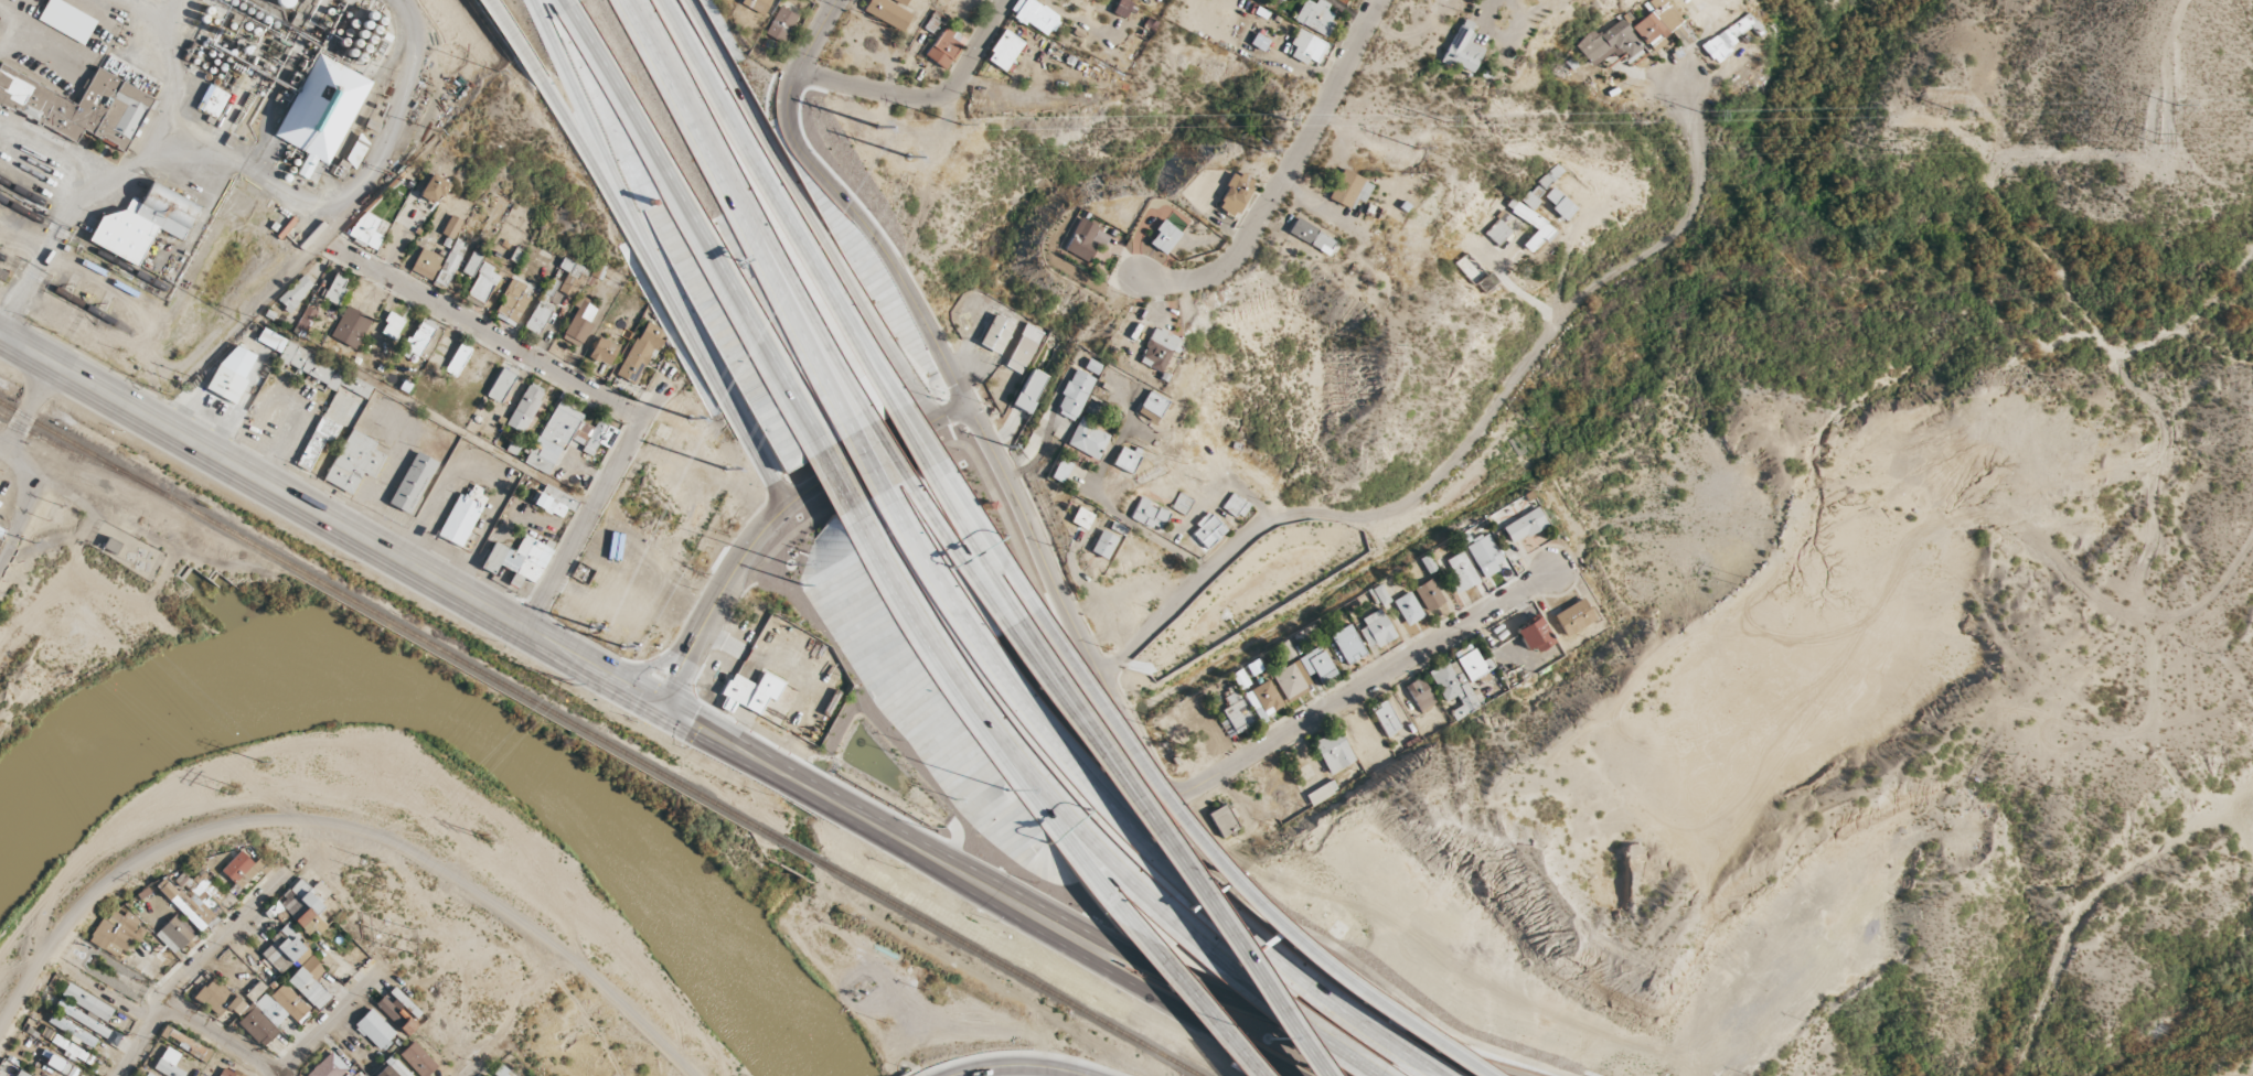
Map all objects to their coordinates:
building: (1282, 0)
road: (831, 2)
building: (756, 4)
building: (1121, 8)
building: (888, 12)
building: (1034, 15)
building: (1314, 17)
building: (66, 20)
building: (932, 22)
building: (1656, 23)
building: (779, 25)
road: (506, 29)
building: (1729, 35)
building: (1258, 42)
building: (1305, 46)
building: (943, 47)
building: (1462, 49)
building: (1004, 50)
building: (54, 79)
road: (577, 97)
road: (925, 97)
building: (212, 100)
power tower: (2177, 104)
building: (78, 106)
building: (321, 110)
power tower: (1951, 110)
power tower: (1710, 112)
power tower: (1281, 116)
power tower: (1442, 117)
power tower: (876, 127)
road: (572, 128)
power tower: (2155, 134)
power tower: (1875, 142)
road: (703, 144)
power tower: (1262, 147)
power tower: (1414, 147)
power tower: (904, 152)
road: (1282, 172)
building: (433, 189)
building: (1348, 189)
building: (1235, 194)
building: (1529, 201)
building: (1558, 203)
road: (779, 204)
road: (807, 213)
building: (143, 223)
road: (693, 225)
building: (1533, 225)
building: (451, 227)
building: (365, 230)
building: (1496, 233)
building: (1311, 236)
building: (1164, 237)
building: (1085, 239)
railway: (84, 245)
building: (473, 260)
building: (449, 262)
building: (426, 263)
road: (1562, 266)
building: (1471, 267)
building: (570, 278)
building: (1487, 282)
building: (482, 283)
building: (334, 289)
road: (1517, 290)
railway: (56, 292)
building: (295, 292)
building: (511, 303)
building: (543, 306)
building: (305, 321)
building: (579, 322)
building: (392, 325)
road: (488, 332)
building: (993, 334)
building: (1021, 349)
building: (1156, 349)
building: (602, 352)
building: (640, 352)
road: (702, 352)
road: (827, 355)
road: (869, 355)
building: (457, 359)
road: (818, 361)
building: (1092, 366)
building: (316, 367)
building: (229, 374)
building: (500, 385)
road: (960, 387)
building: (1029, 390)
building: (1074, 395)
building: (1151, 406)
road: (24, 407)
building: (524, 407)
road: (954, 412)
power tower: (690, 416)
building: (575, 430)
railway: (29, 432)
road: (921, 433)
road: (909, 438)
building: (1087, 439)
building: (317, 441)
road: (1465, 445)
road: (0, 450)
road: (891, 450)
railway: (71, 453)
building: (538, 459)
building: (1125, 459)
road: (871, 461)
building: (353, 462)
power tower: (725, 467)
building: (1060, 471)
road: (839, 474)
building: (412, 483)
road: (22, 499)
building: (554, 502)
building: (1181, 503)
building: (1235, 506)
road: (592, 508)
building: (1149, 515)
building: (461, 516)
road: (324, 517)
building: (1081, 518)
building: (1524, 525)
road: (764, 526)
building: (1207, 531)
road: (984, 535)
road: (972, 542)
building: (111, 545)
building: (1102, 545)
road: (959, 552)
building: (519, 559)
building: (1487, 561)
building: (1460, 572)
building: (1376, 595)
building: (1428, 595)
building: (1407, 609)
road: (920, 616)
building: (1573, 617)
railway: (393, 624)
power tower: (590, 625)
building: (1375, 630)
building: (1533, 635)
building: (1347, 644)
power tower: (620, 647)
building: (1284, 650)
building: (1317, 661)
building: (1471, 663)
building: (1288, 680)
road: (1367, 684)
building: (1453, 688)
building: (750, 691)
building: (1419, 693)
building: (1262, 698)
building: (1234, 714)
road: (1114, 715)
building: (1385, 718)
road: (1089, 723)
river: (493, 724)
road: (1078, 730)
building: (1333, 751)
road: (1088, 781)
building: (1322, 792)
road: (859, 819)
building: (1224, 820)
road: (348, 832)
road: (1064, 832)
railway: (799, 852)
road: (1108, 861)
building: (243, 869)
road: (1222, 876)
building: (189, 904)
building: (306, 905)
building: (114, 932)
building: (173, 934)
building: (281, 948)
road: (1237, 954)
road: (189, 964)
railway: (1003, 967)
building: (308, 980)
building: (255, 991)
building: (217, 998)
building: (86, 1002)
road: (1203, 1004)
building: (281, 1005)
road: (1181, 1011)
road: (1278, 1012)
road: (1285, 1012)
building: (394, 1015)
road: (330, 1019)
building: (255, 1024)
building: (374, 1029)
road: (218, 1035)
road: (1392, 1046)
building: (72, 1051)
building: (417, 1059)
road: (1355, 1061)
building: (168, 1063)
road: (472, 1064)
building: (61, 1065)
road: (1014, 1065)
building: (328, 1066)
building: (8, 1068)
building: (392, 1069)
building: (227, 1072)
building: (500, 1072)
building: (20, 1074)
building: (148, 1074)
road: (276, 1074)
road: (1433, 1075)

